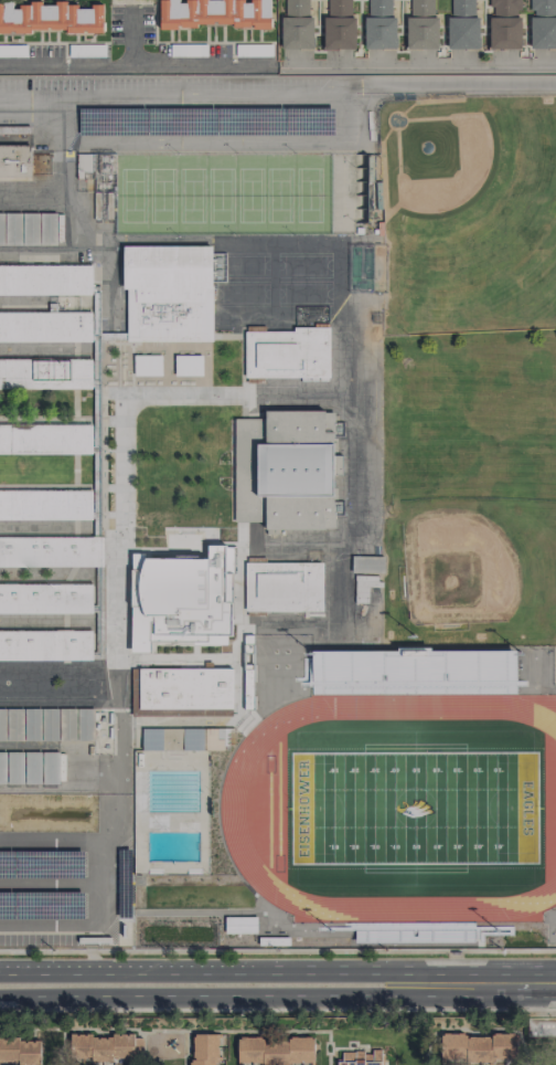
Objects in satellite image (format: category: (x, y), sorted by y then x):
building: (212, 13)
building: (50, 18)
building: (504, 23)
building: (543, 23)
building: (297, 24)
building: (379, 24)
building: (462, 24)
building: (339, 25)
building: (421, 25)
road: (130, 36)
building: (254, 50)
road: (136, 62)
road: (423, 63)
road: (278, 85)
building: (14, 160)
park: (191, 193)
park: (132, 194)
park: (161, 194)
park: (220, 194)
park: (249, 194)
park: (308, 194)
park: (279, 196)
building: (28, 229)
building: (45, 278)
building: (168, 292)
building: (44, 326)
building: (287, 354)
building: (147, 365)
building: (188, 365)
building: (45, 372)
building: (329, 421)
building: (46, 439)
building: (282, 468)
building: (45, 504)
building: (51, 550)
building: (367, 563)
building: (282, 587)
building: (363, 587)
building: (45, 598)
building: (179, 598)
building: (45, 644)
building: (181, 692)
track: (534, 705)
track: (535, 715)
building: (46, 724)
building: (151, 738)
building: (200, 738)
building: (29, 767)
park: (413, 808)
track: (232, 832)
building: (239, 925)
road: (277, 951)
road: (209, 969)
road: (534, 981)
road: (463, 982)
road: (209, 994)
road: (278, 1010)
building: (542, 1027)
building: (100, 1046)
building: (477, 1046)
building: (203, 1048)
building: (20, 1051)
building: (275, 1051)
building: (360, 1057)

